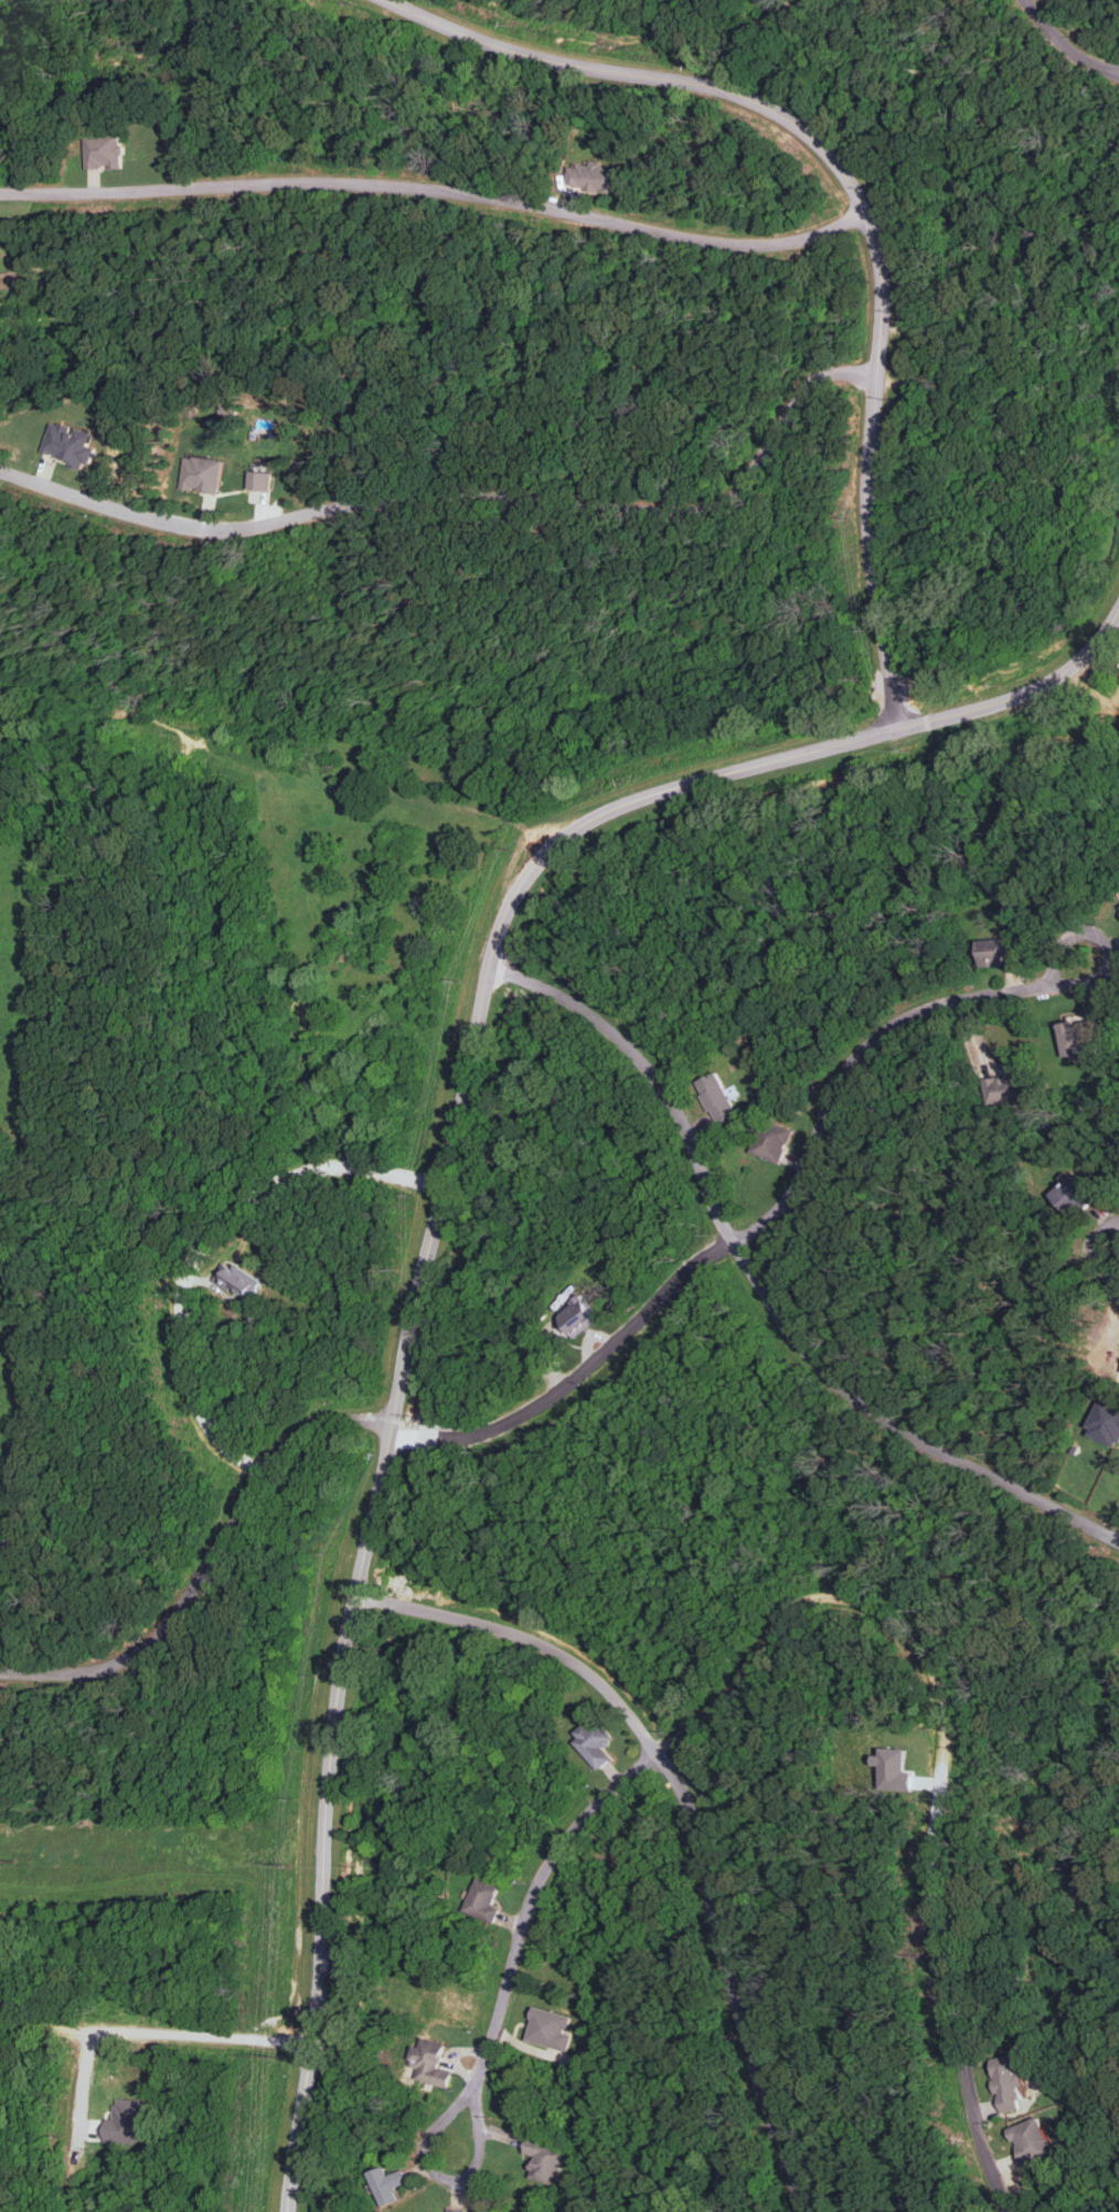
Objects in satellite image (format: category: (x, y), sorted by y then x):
road: (601, 21)
road: (1065, 44)
road: (965, 129)
building: (103, 151)
building: (598, 175)
road: (437, 192)
road: (860, 202)
road: (1111, 232)
road: (935, 359)
building: (71, 444)
building: (203, 473)
building: (259, 480)
road: (468, 496)
road: (1117, 655)
road: (1118, 669)
building: (995, 950)
building: (1077, 1037)
building: (1004, 1084)
building: (715, 1097)
building: (771, 1141)
building: (1072, 1196)
road: (436, 1207)
road: (763, 1222)
road: (206, 1244)
building: (236, 1280)
road: (760, 1289)
building: (573, 1316)
building: (1106, 1421)
road: (207, 1563)
building: (592, 1742)
road: (941, 1760)
building: (892, 1768)
road: (688, 1810)
building: (482, 1900)
road: (521, 1932)
building: (547, 2029)
road: (156, 2033)
building: (428, 2062)
building: (1006, 2082)
road: (78, 2120)
building: (122, 2122)
building: (1031, 2140)
road: (721, 2156)
building: (542, 2159)
building: (385, 2184)
building: (456, 2210)

